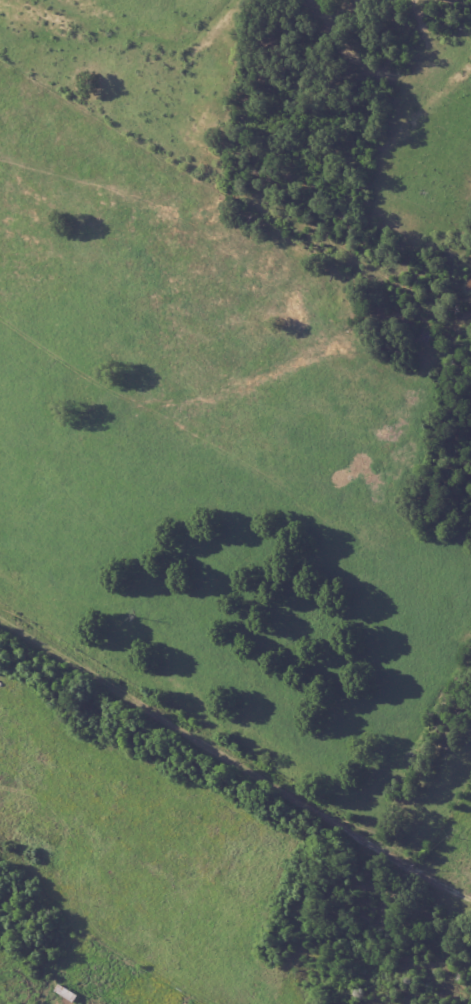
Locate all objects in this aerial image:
road: (235, 755)

